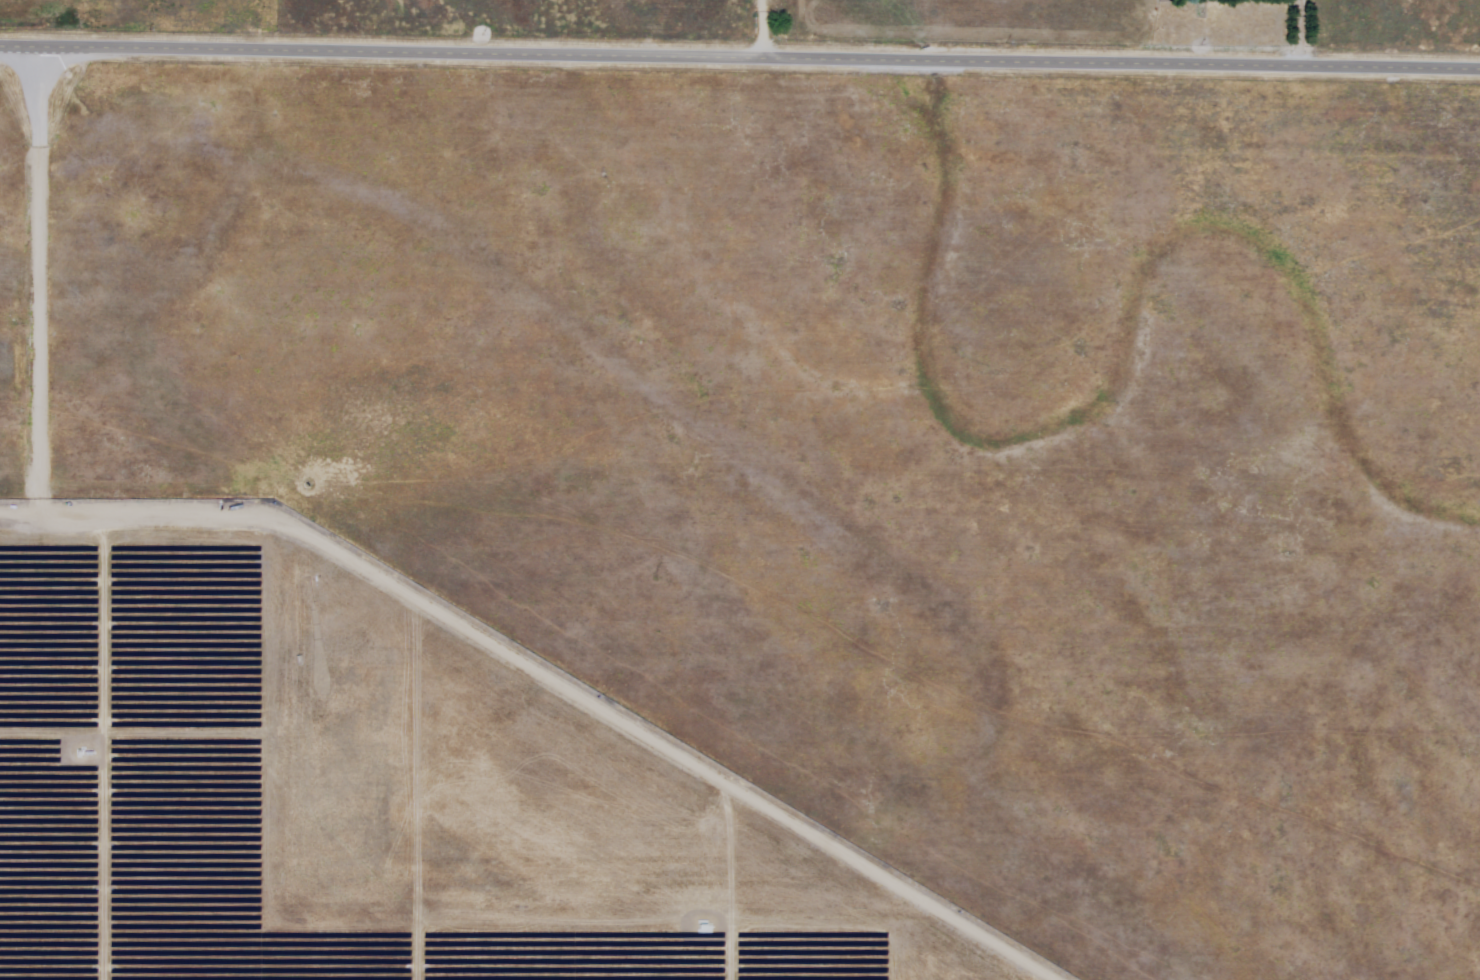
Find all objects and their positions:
road: (764, 29)
road: (1305, 33)
road: (739, 58)
solar farm: (736, 528)

